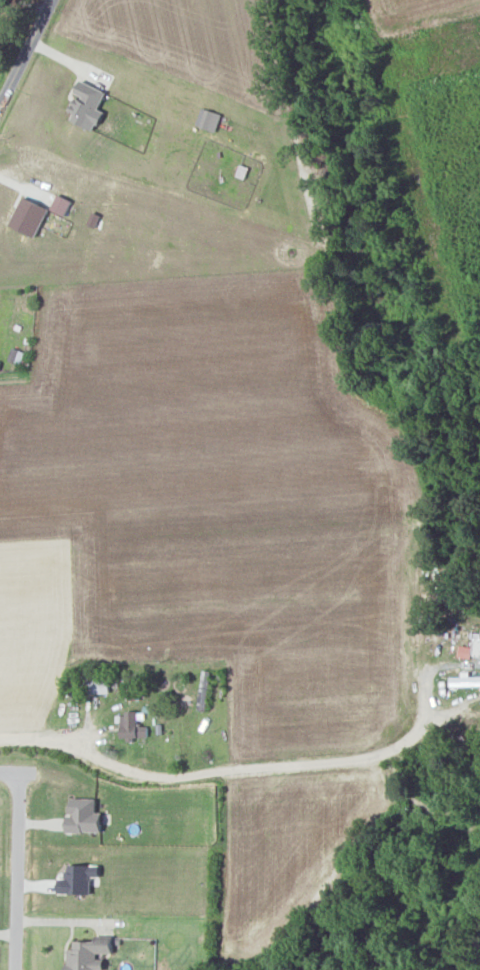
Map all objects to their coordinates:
road: (25, 3)
road: (28, 55)
building: (88, 105)
building: (209, 119)
building: (29, 216)
building: (465, 651)
building: (130, 725)
road: (244, 775)
building: (85, 816)
road: (17, 865)
building: (79, 879)
building: (90, 954)

